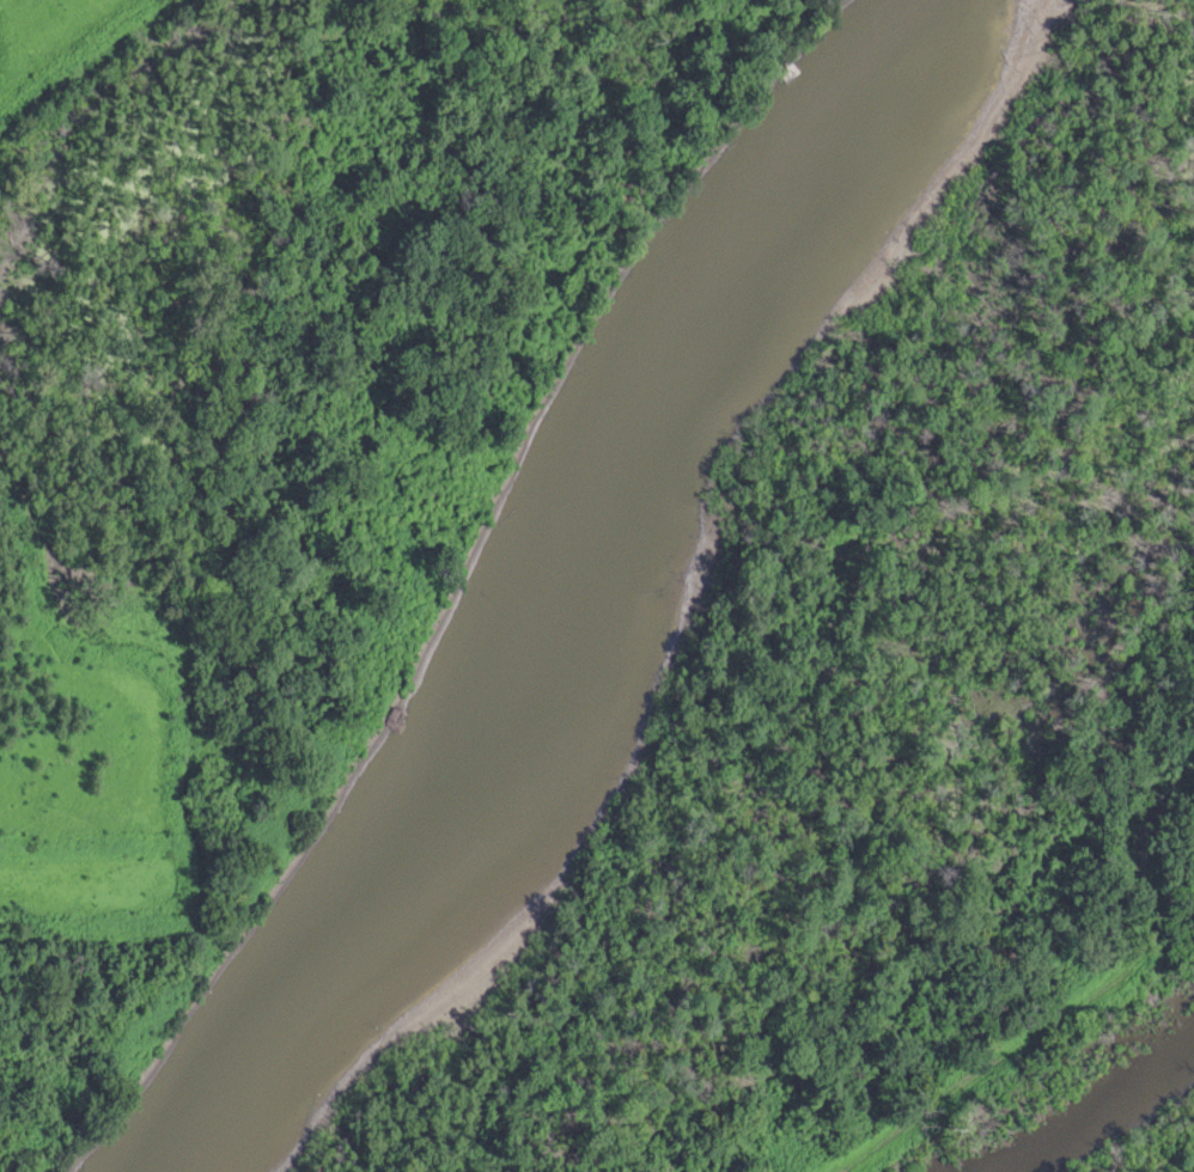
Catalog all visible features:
road: (934, 1079)

